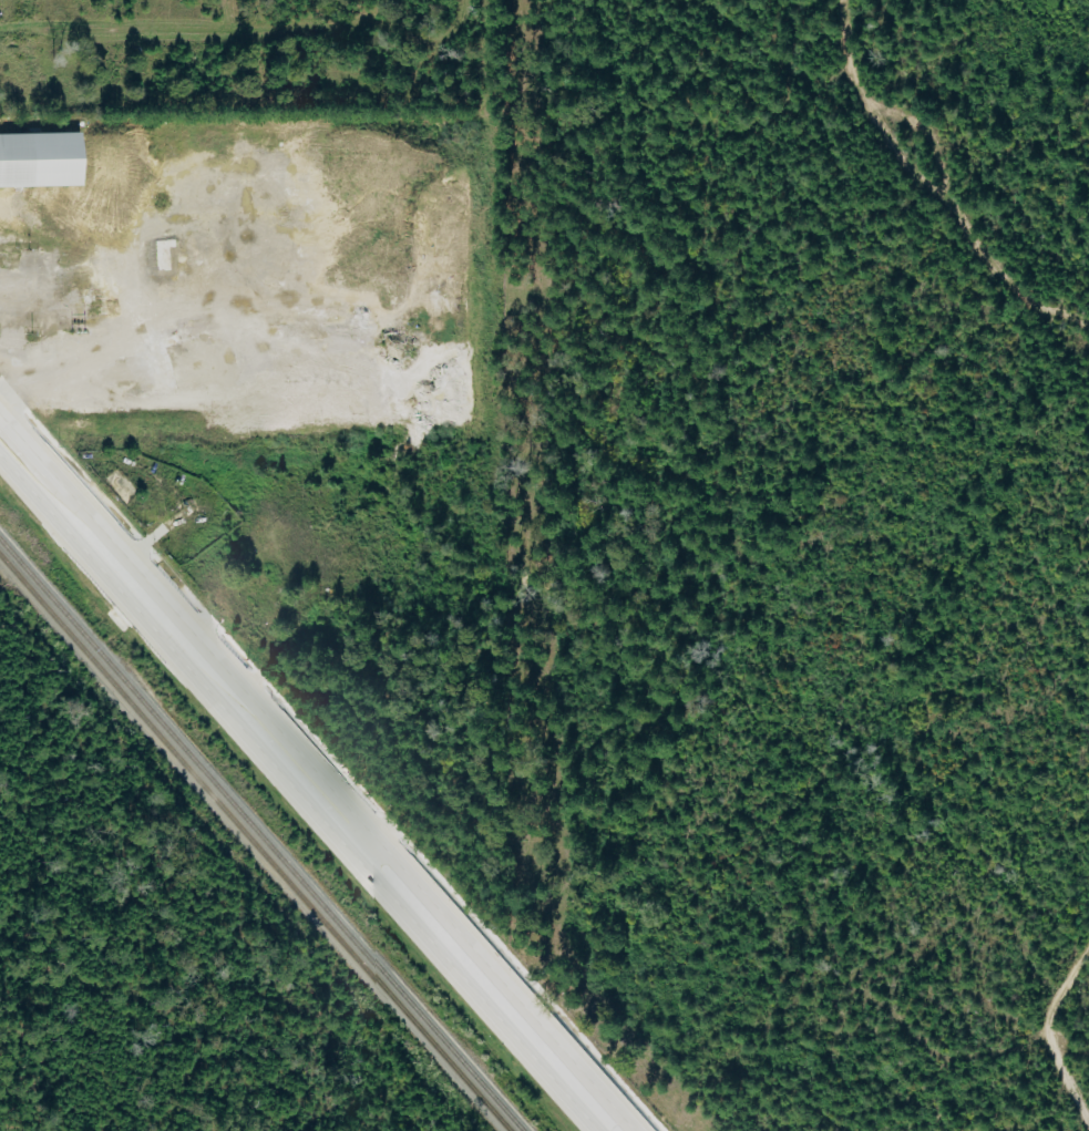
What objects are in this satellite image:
building: (37, 160)
building: (8, 256)
building: (37, 256)
road: (18, 380)
road: (312, 791)
railway: (260, 835)
railway: (255, 843)

